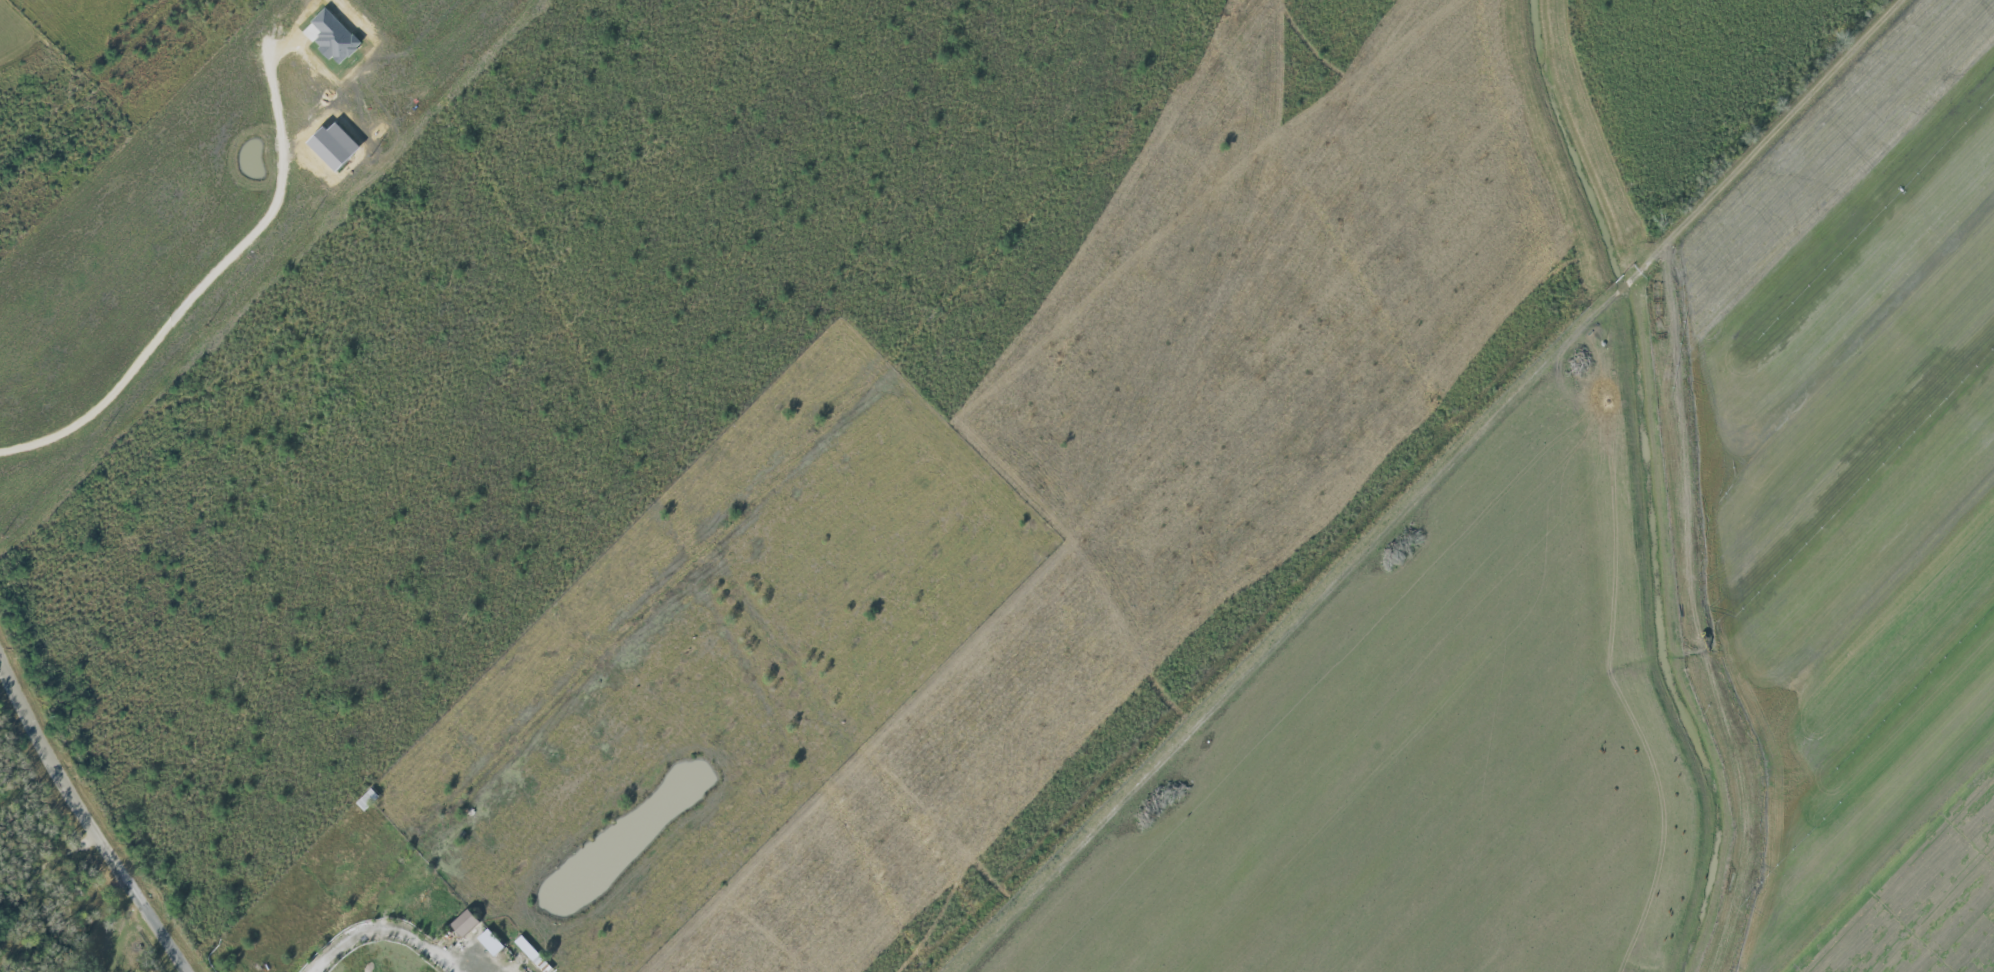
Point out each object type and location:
road: (90, 810)
building: (467, 922)
road: (367, 931)

